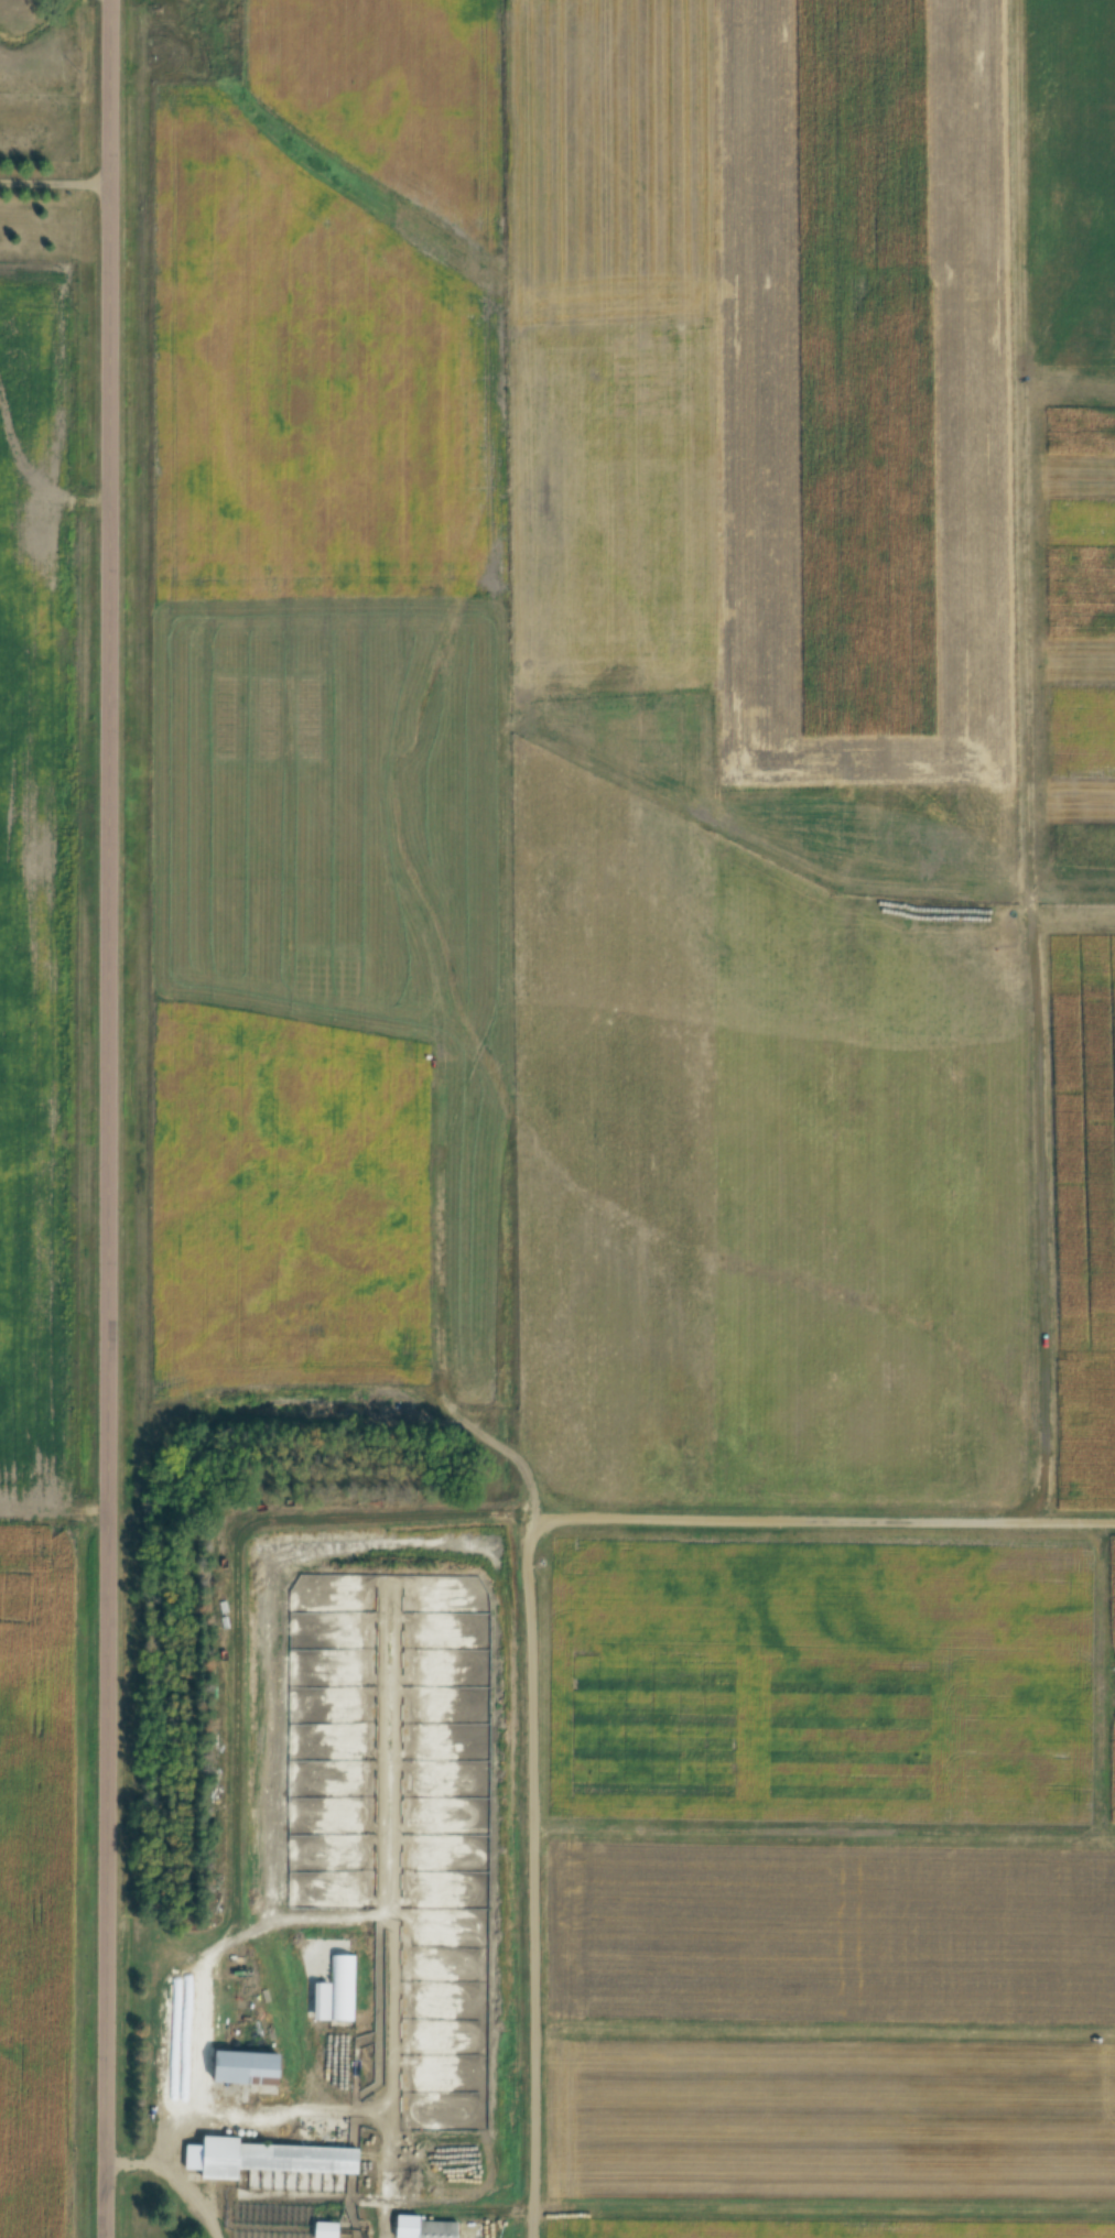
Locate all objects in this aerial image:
road: (54, 180)
road: (108, 1119)
road: (530, 1894)
building: (343, 1988)
building: (248, 2068)
building: (266, 2159)
road: (192, 2188)
building: (426, 2228)
building: (327, 2229)

